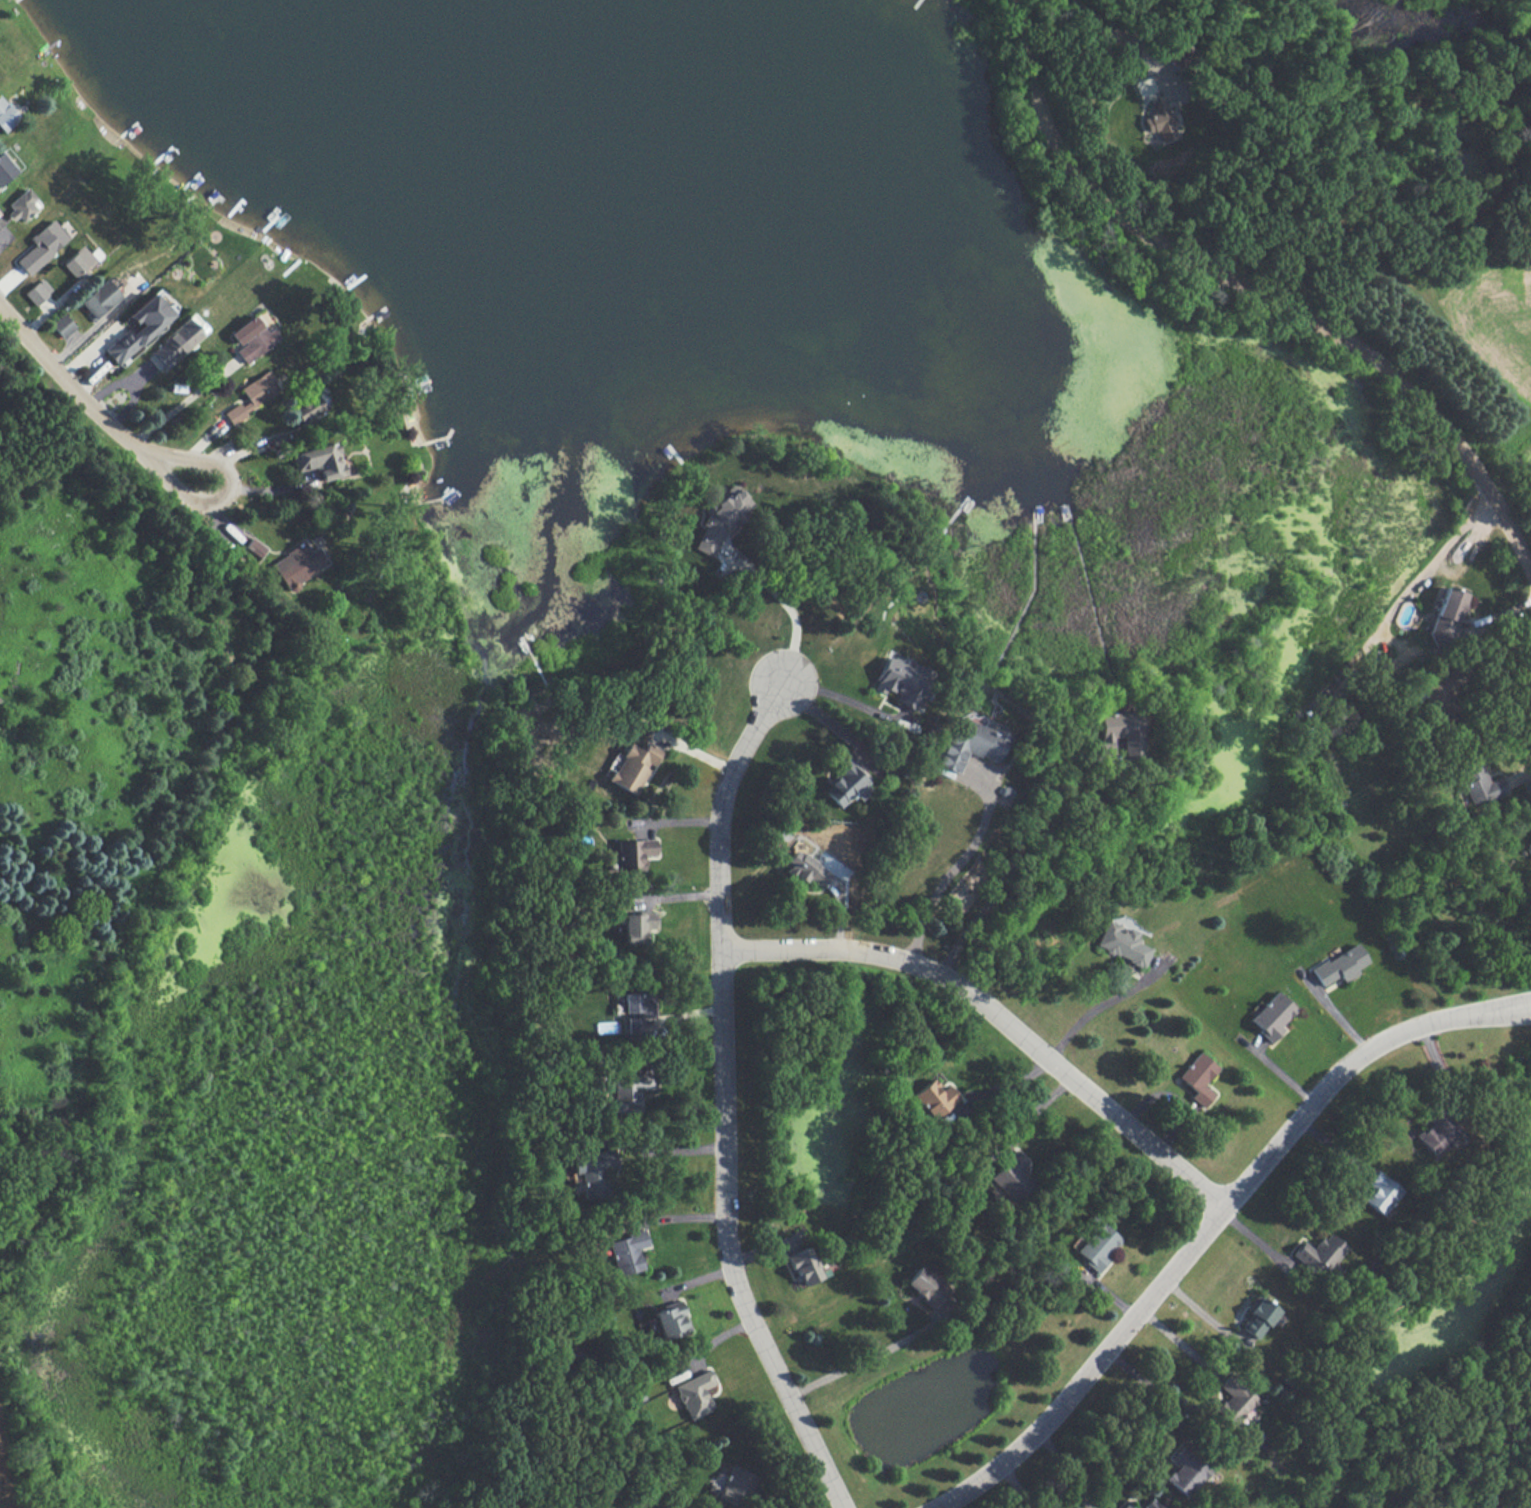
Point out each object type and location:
road: (1114, 33)
building: (6, 116)
building: (1159, 122)
building: (5, 168)
building: (22, 204)
building: (0, 226)
building: (42, 246)
building: (78, 263)
building: (37, 291)
road: (1257, 295)
building: (99, 299)
building: (62, 325)
building: (139, 328)
road: (85, 333)
building: (252, 338)
building: (179, 340)
building: (254, 395)
road: (180, 407)
building: (306, 410)
road: (96, 412)
building: (319, 461)
building: (721, 519)
building: (253, 549)
road: (1441, 563)
building: (298, 564)
road: (786, 606)
building: (1445, 617)
road: (1501, 668)
building: (901, 680)
building: (1441, 690)
road: (840, 710)
building: (1122, 731)
building: (969, 745)
building: (632, 767)
road: (1520, 774)
building: (1479, 782)
building: (846, 784)
building: (1528, 828)
building: (634, 852)
road: (1014, 864)
building: (804, 869)
road: (951, 877)
building: (636, 926)
building: (1120, 943)
building: (1339, 965)
building: (636, 1002)
road: (1495, 1003)
road: (1097, 1009)
road: (1495, 1013)
building: (1271, 1016)
road: (995, 1017)
building: (632, 1025)
road: (1436, 1064)
building: (1197, 1078)
building: (630, 1090)
road: (1007, 1097)
building: (933, 1098)
road: (721, 1101)
road: (1034, 1125)
building: (1438, 1131)
road: (1330, 1147)
road: (657, 1154)
building: (592, 1171)
building: (1008, 1177)
building: (1379, 1192)
building: (1098, 1244)
road: (1188, 1249)
building: (627, 1252)
building: (1318, 1254)
building: (803, 1266)
building: (925, 1286)
building: (1257, 1318)
building: (670, 1320)
road: (1179, 1344)
road: (706, 1358)
road: (857, 1365)
road: (1150, 1387)
building: (694, 1394)
building: (1233, 1400)
road: (1064, 1467)
building: (1186, 1470)
building: (734, 1486)
road: (1019, 1486)
building: (1150, 1504)
building: (672, 1506)
building: (1125, 1506)

